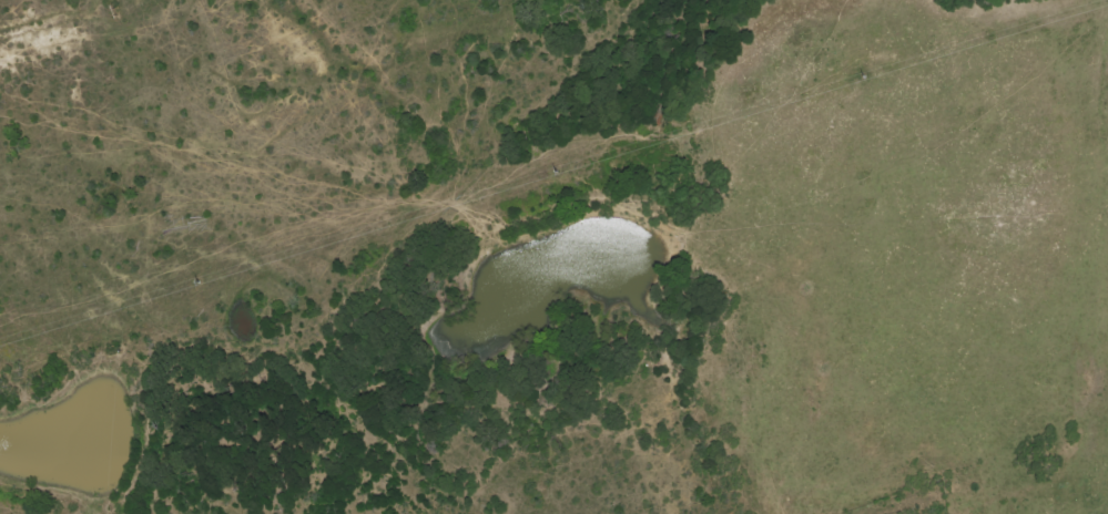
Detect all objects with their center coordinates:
power tower: (116, 11)

